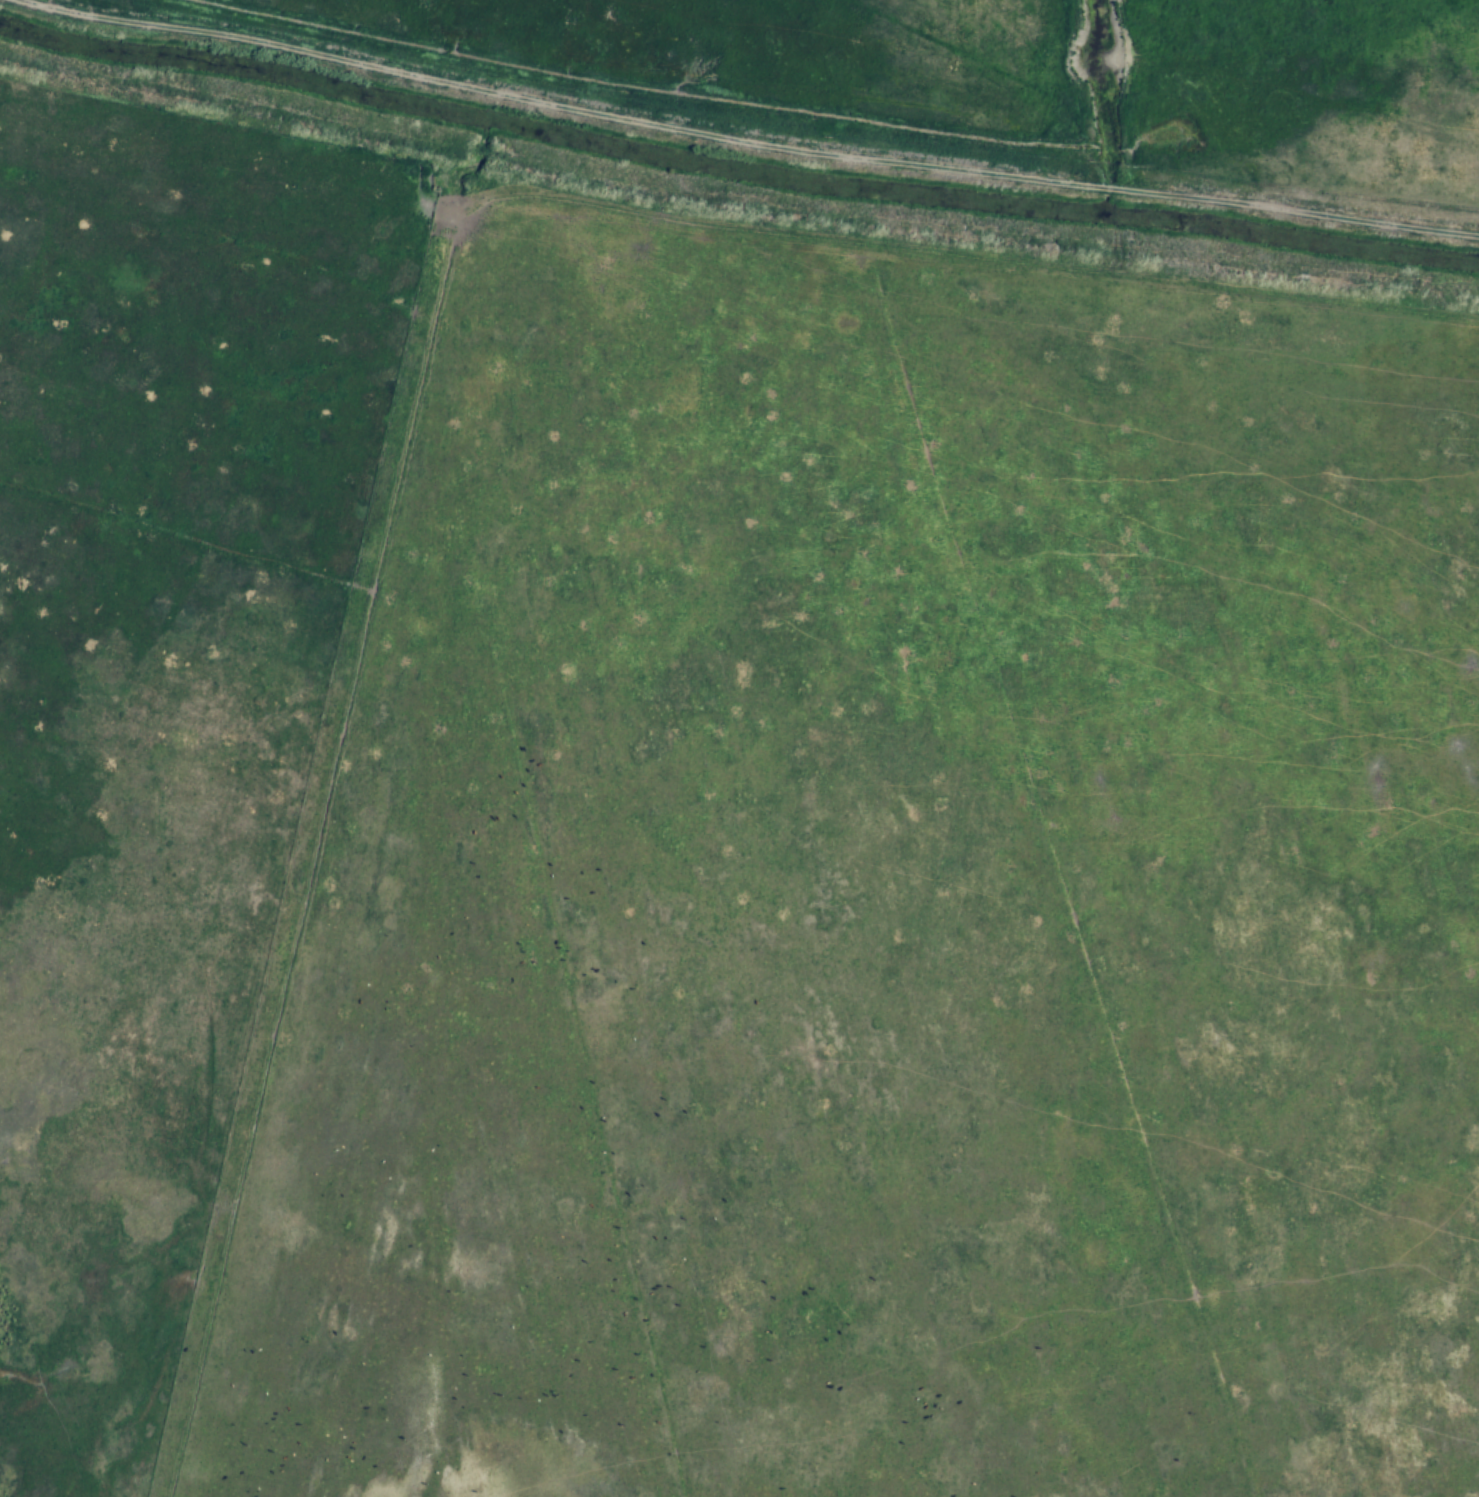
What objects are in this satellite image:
road: (733, 219)

